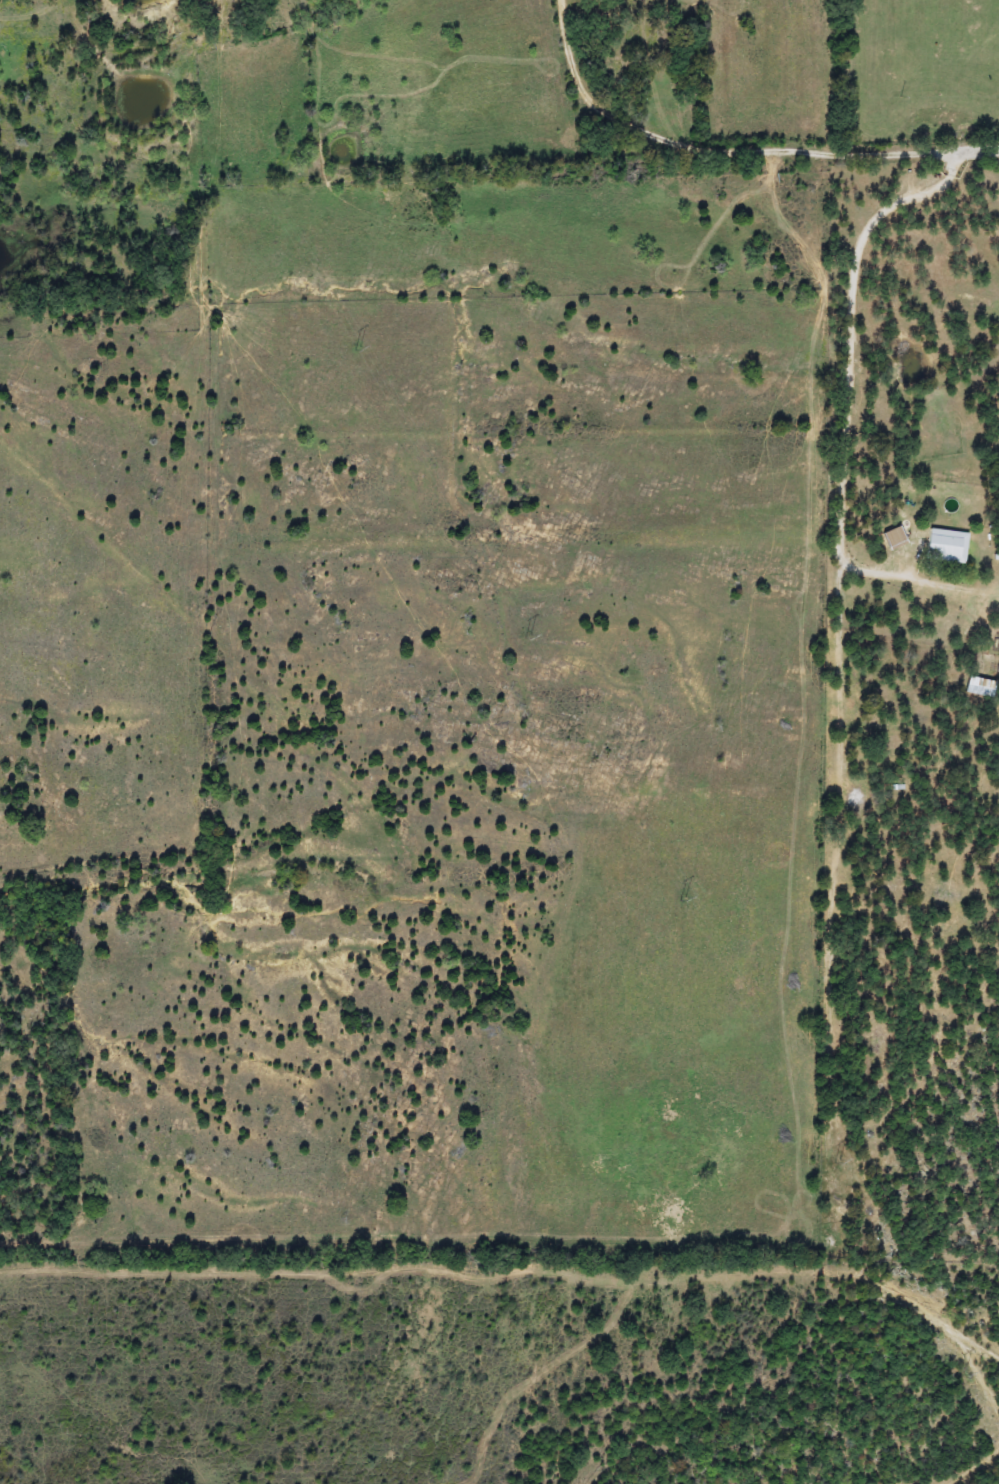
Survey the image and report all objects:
road: (734, 146)
power tower: (363, 351)
road: (851, 363)
building: (937, 544)
power tower: (534, 640)
power tower: (688, 899)
power tower: (840, 1161)
power tower: (972, 1374)

